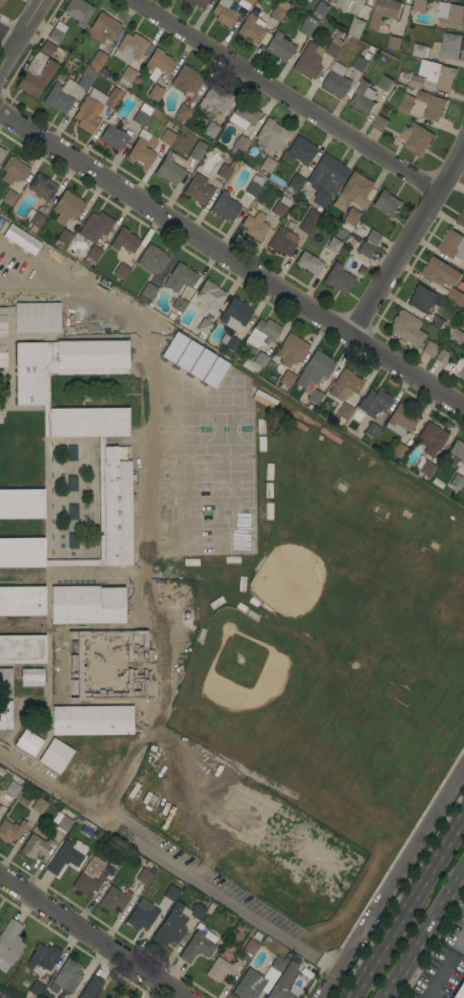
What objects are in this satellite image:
building: (23, 0)
building: (248, 1)
building: (326, 1)
building: (198, 3)
building: (348, 4)
building: (420, 5)
building: (241, 6)
building: (320, 9)
building: (278, 10)
building: (78, 11)
building: (225, 12)
building: (385, 12)
building: (451, 15)
building: (307, 26)
building: (102, 28)
building: (252, 28)
building: (357, 28)
building: (57, 32)
building: (338, 33)
road: (21, 34)
building: (117, 34)
road: (8, 39)
building: (395, 43)
building: (451, 46)
building: (279, 47)
building: (333, 47)
building: (47, 48)
building: (129, 48)
road: (28, 49)
building: (420, 50)
building: (98, 58)
building: (309, 61)
building: (109, 62)
building: (158, 62)
building: (361, 64)
building: (97, 69)
building: (430, 70)
building: (103, 72)
building: (36, 74)
building: (126, 76)
building: (85, 78)
building: (446, 78)
building: (186, 80)
building: (335, 80)
building: (406, 80)
building: (417, 82)
building: (385, 83)
building: (429, 84)
building: (155, 92)
road: (285, 95)
building: (59, 97)
building: (363, 98)
building: (214, 100)
building: (407, 104)
building: (432, 105)
building: (95, 108)
building: (384, 110)
building: (182, 114)
building: (141, 115)
building: (243, 115)
building: (380, 123)
building: (209, 129)
building: (113, 135)
building: (167, 136)
building: (269, 136)
building: (417, 138)
building: (238, 145)
building: (141, 151)
building: (197, 151)
building: (299, 151)
building: (2, 153)
building: (267, 164)
building: (169, 169)
building: (13, 170)
building: (225, 170)
building: (326, 179)
building: (276, 181)
building: (294, 184)
building: (254, 186)
building: (42, 187)
building: (197, 189)
building: (353, 192)
building: (9, 197)
building: (386, 203)
building: (280, 206)
building: (67, 207)
building: (224, 207)
building: (351, 215)
building: (461, 219)
building: (33, 220)
building: (308, 221)
building: (254, 223)
building: (95, 227)
building: (64, 237)
building: (372, 237)
building: (124, 241)
building: (282, 241)
road: (407, 242)
building: (333, 245)
building: (453, 245)
building: (365, 250)
building: (93, 253)
building: (152, 260)
road: (231, 260)
building: (309, 263)
building: (121, 271)
building: (463, 271)
road: (53, 272)
building: (441, 272)
building: (179, 278)
building: (338, 279)
building: (146, 293)
building: (210, 294)
building: (454, 295)
building: (424, 299)
building: (178, 305)
road: (108, 306)
building: (234, 316)
building: (36, 317)
building: (437, 323)
building: (201, 327)
building: (407, 329)
building: (262, 334)
building: (455, 335)
building: (2, 336)
building: (231, 344)
building: (429, 349)
building: (292, 350)
building: (442, 357)
building: (259, 359)
building: (460, 368)
building: (314, 369)
building: (287, 379)
building: (344, 385)
building: (314, 396)
building: (373, 403)
building: (344, 411)
building: (401, 420)
park: (224, 428)
park: (178, 429)
building: (371, 430)
building: (431, 438)
building: (398, 450)
building: (457, 450)
building: (107, 451)
building: (71, 453)
park: (181, 457)
park: (227, 457)
building: (425, 469)
building: (456, 482)
park: (227, 483)
building: (71, 484)
park: (182, 484)
building: (21, 503)
park: (225, 511)
building: (72, 512)
park: (179, 512)
park: (229, 539)
building: (71, 540)
park: (183, 540)
park: (286, 577)
building: (22, 601)
building: (87, 605)
building: (70, 644)
building: (22, 649)
park: (238, 662)
building: (67, 674)
building: (31, 677)
building: (5, 682)
park: (324, 702)
building: (153, 714)
building: (5, 715)
building: (92, 720)
building: (28, 743)
building: (56, 756)
building: (11, 788)
building: (0, 792)
building: (0, 805)
building: (39, 805)
building: (1, 811)
building: (64, 824)
building: (11, 830)
building: (35, 847)
building: (66, 856)
building: (117, 858)
road: (168, 860)
building: (90, 876)
building: (143, 876)
road: (391, 881)
building: (171, 893)
building: (113, 899)
road: (406, 905)
building: (196, 912)
building: (141, 915)
building: (170, 927)
road: (424, 934)
road: (94, 936)
building: (9, 944)
building: (198, 945)
building: (250, 947)
building: (43, 956)
building: (277, 964)
building: (220, 970)
building: (66, 978)
road: (438, 978)
building: (285, 983)
building: (248, 985)
building: (36, 988)
building: (90, 988)
building: (459, 991)
building: (120, 995)

